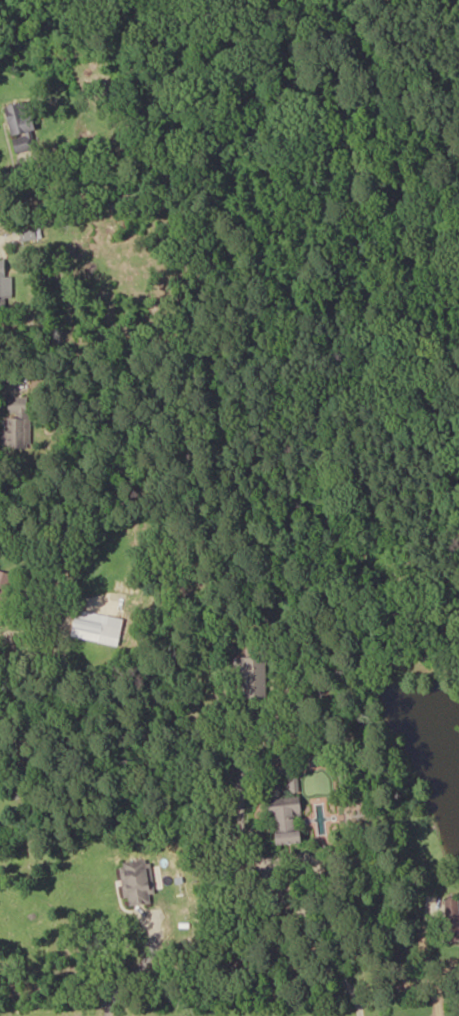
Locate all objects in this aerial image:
building: (5, 285)
building: (17, 424)
building: (5, 593)
building: (98, 628)
building: (251, 679)
building: (290, 820)
building: (139, 883)
building: (453, 920)

